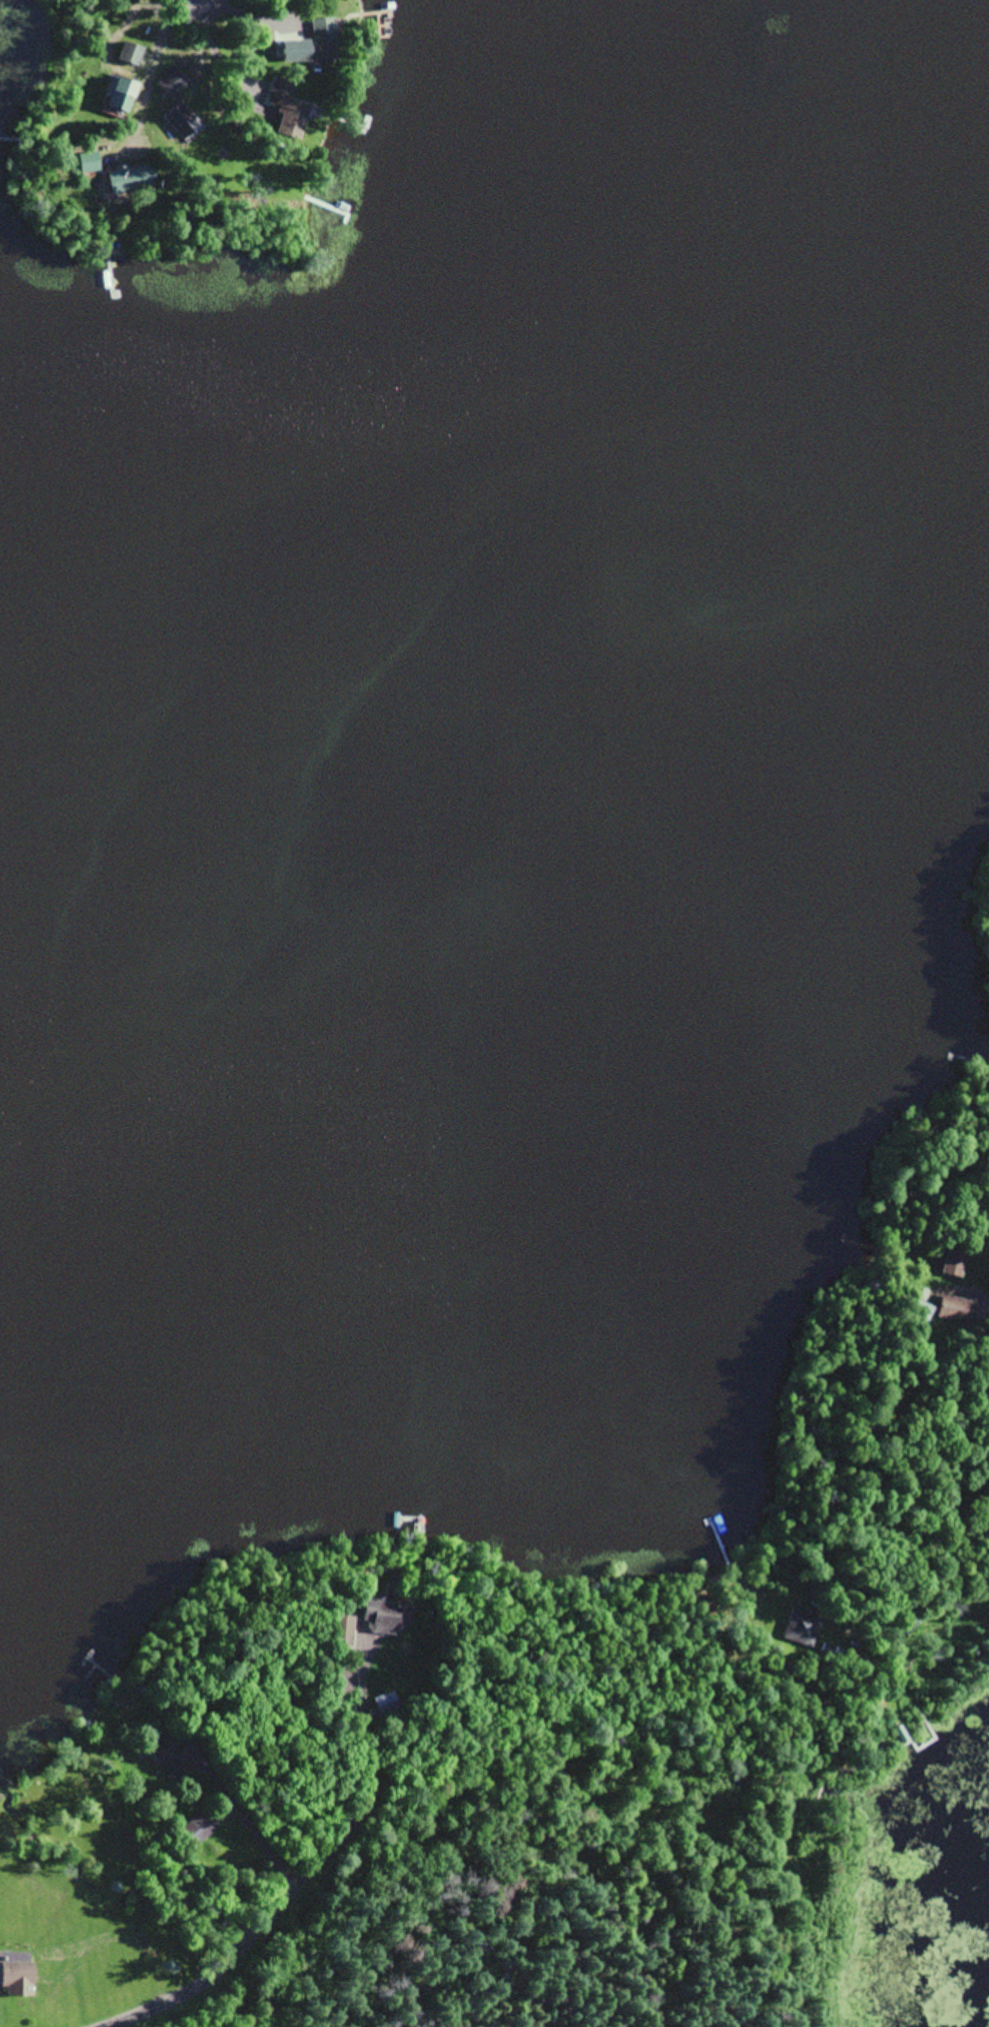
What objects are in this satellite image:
building: (323, 41)
building: (129, 56)
building: (297, 56)
building: (170, 85)
building: (117, 97)
building: (286, 112)
building: (179, 122)
building: (948, 1264)
building: (952, 1311)
building: (922, 1314)
road: (901, 1586)
building: (381, 1619)
building: (800, 1630)
building: (339, 1633)
building: (385, 1706)
building: (900, 1737)
building: (168, 1757)
building: (116, 1832)
building: (194, 1834)
road: (276, 1932)
building: (123, 1951)
building: (20, 1971)

